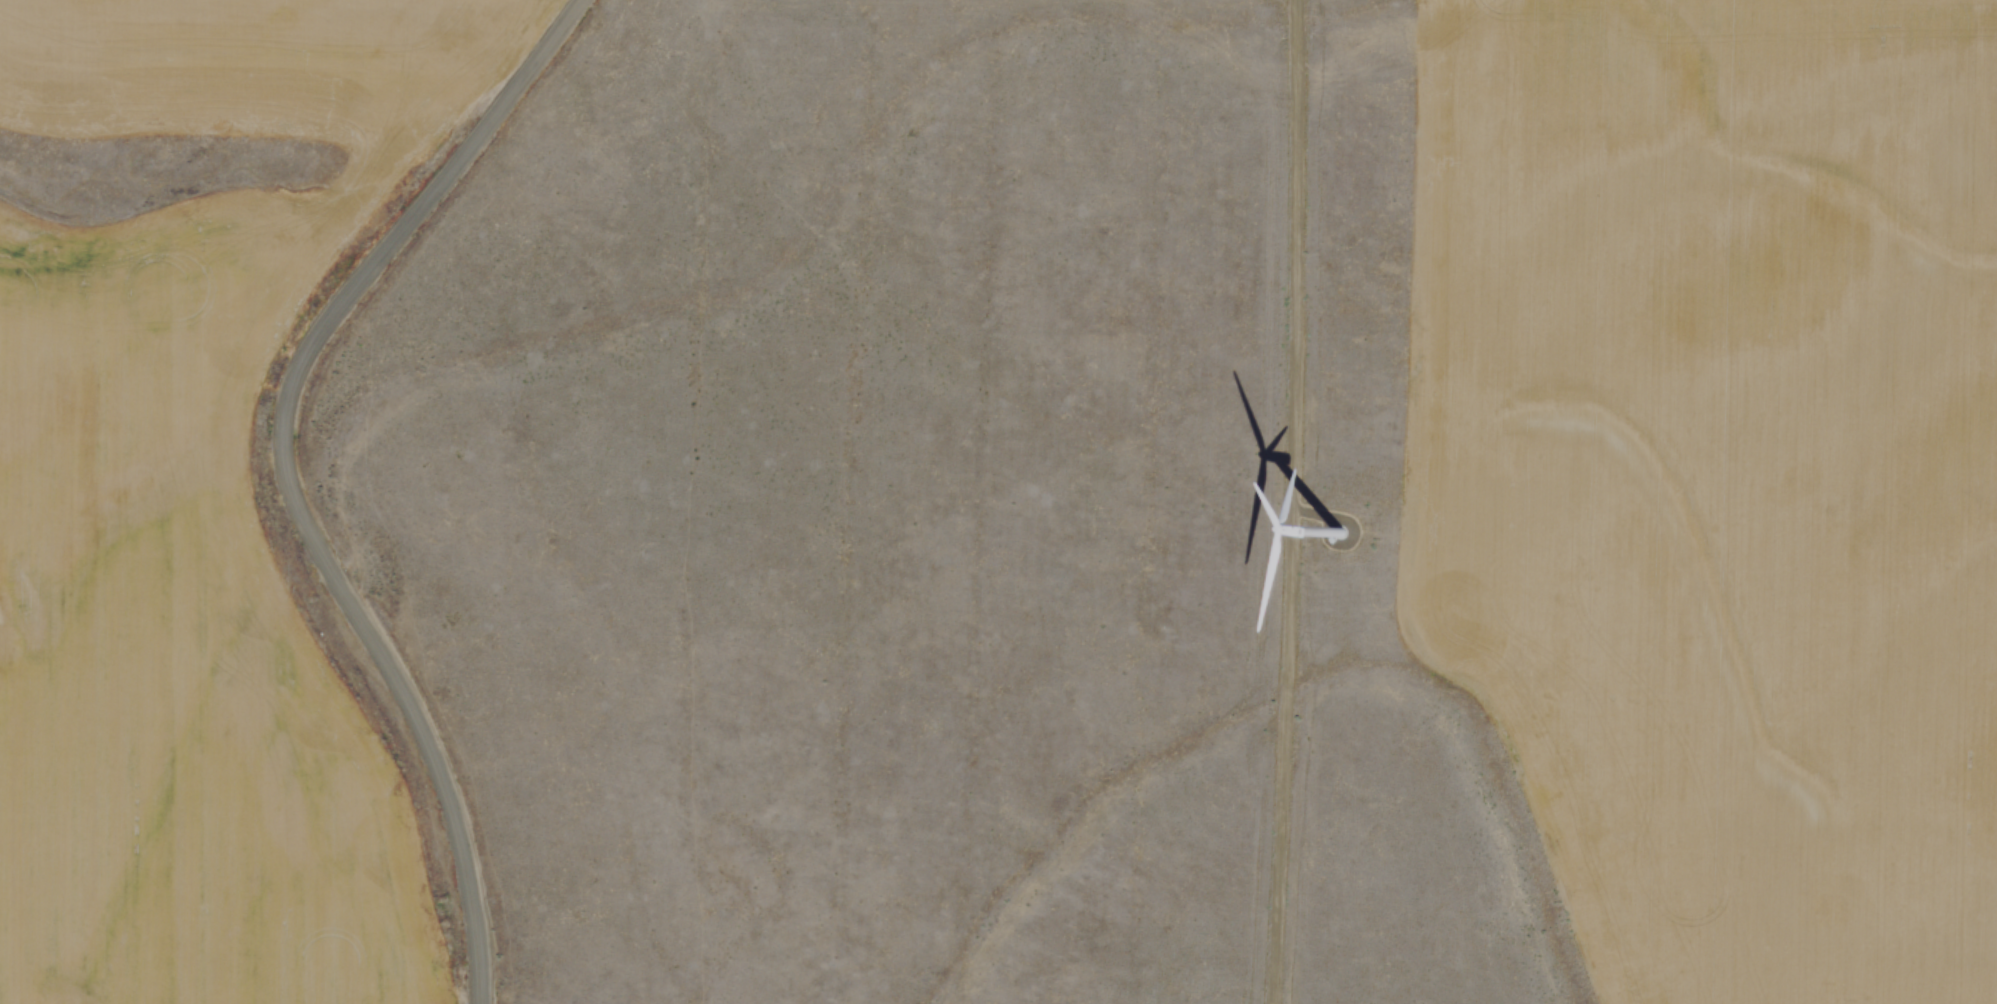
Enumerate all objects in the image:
road: (288, 474)
road: (1279, 502)
wind turbine: (1339, 533)

